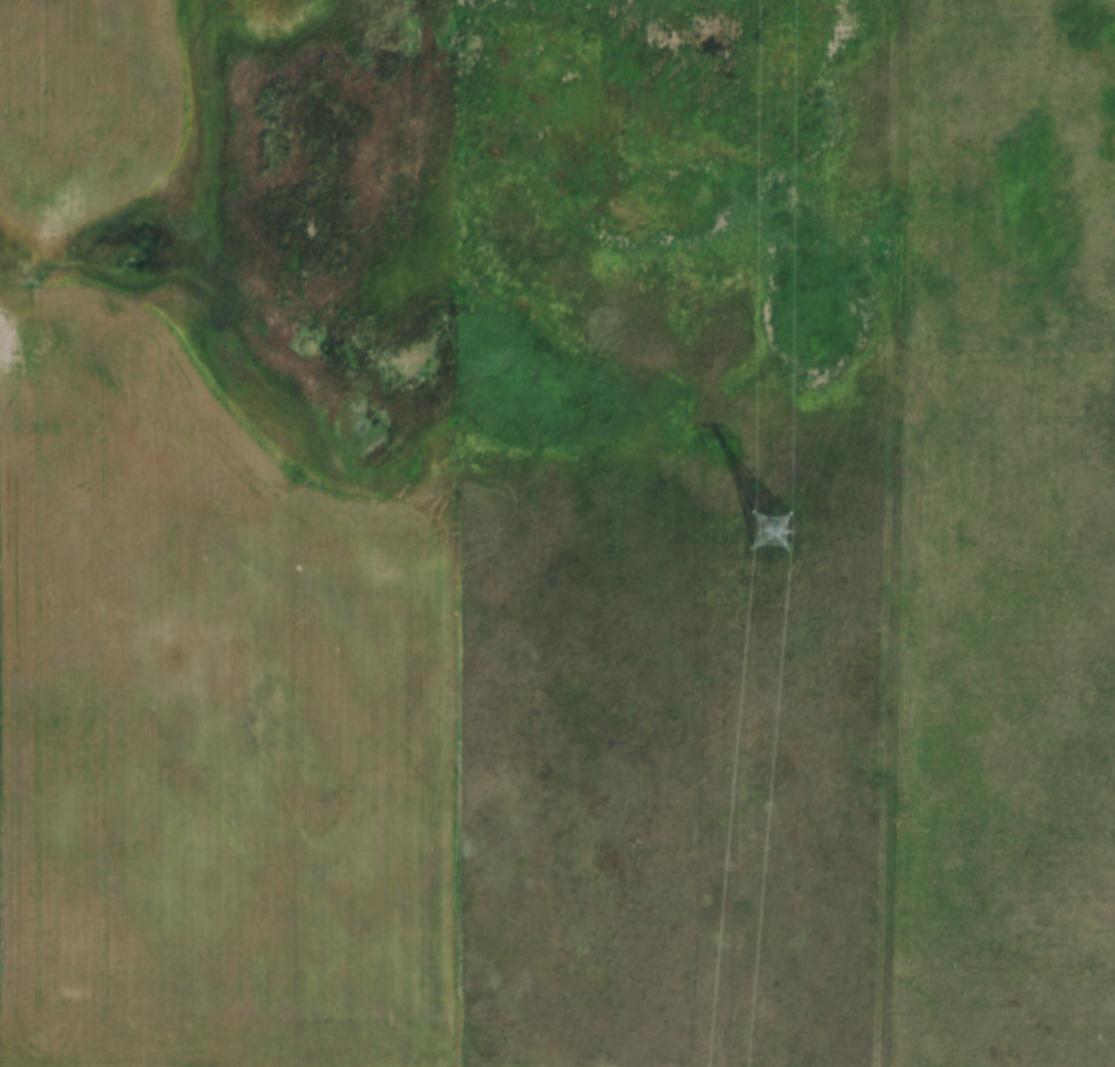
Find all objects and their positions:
power tower: (777, 530)

